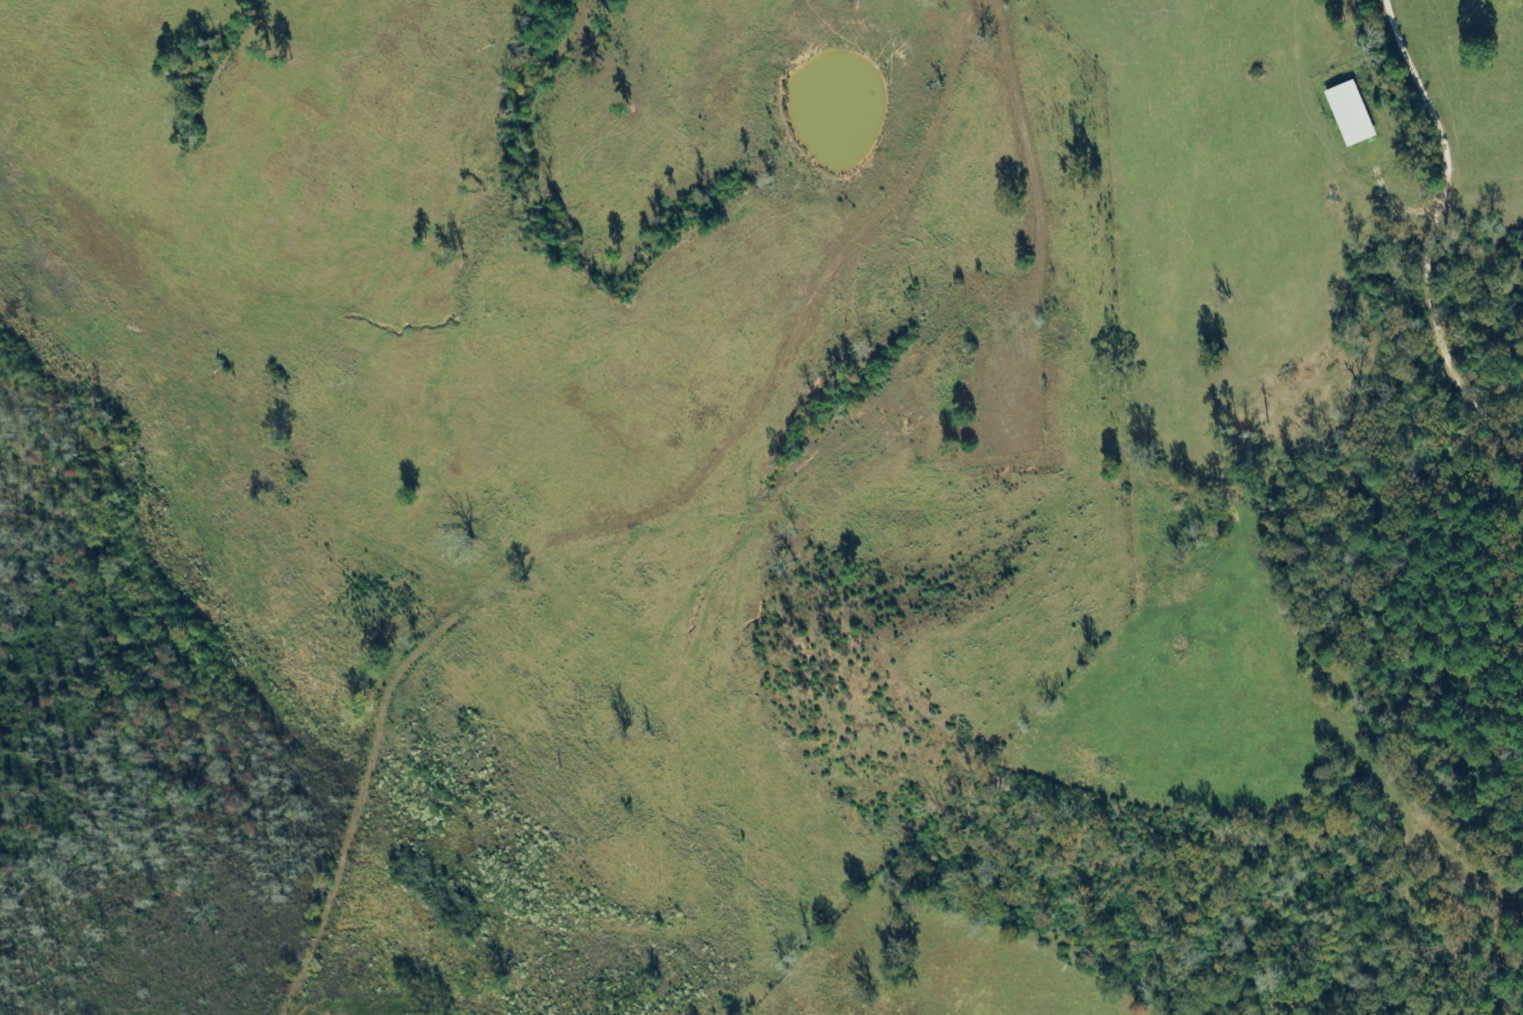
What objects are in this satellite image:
road: (1031, 10)

